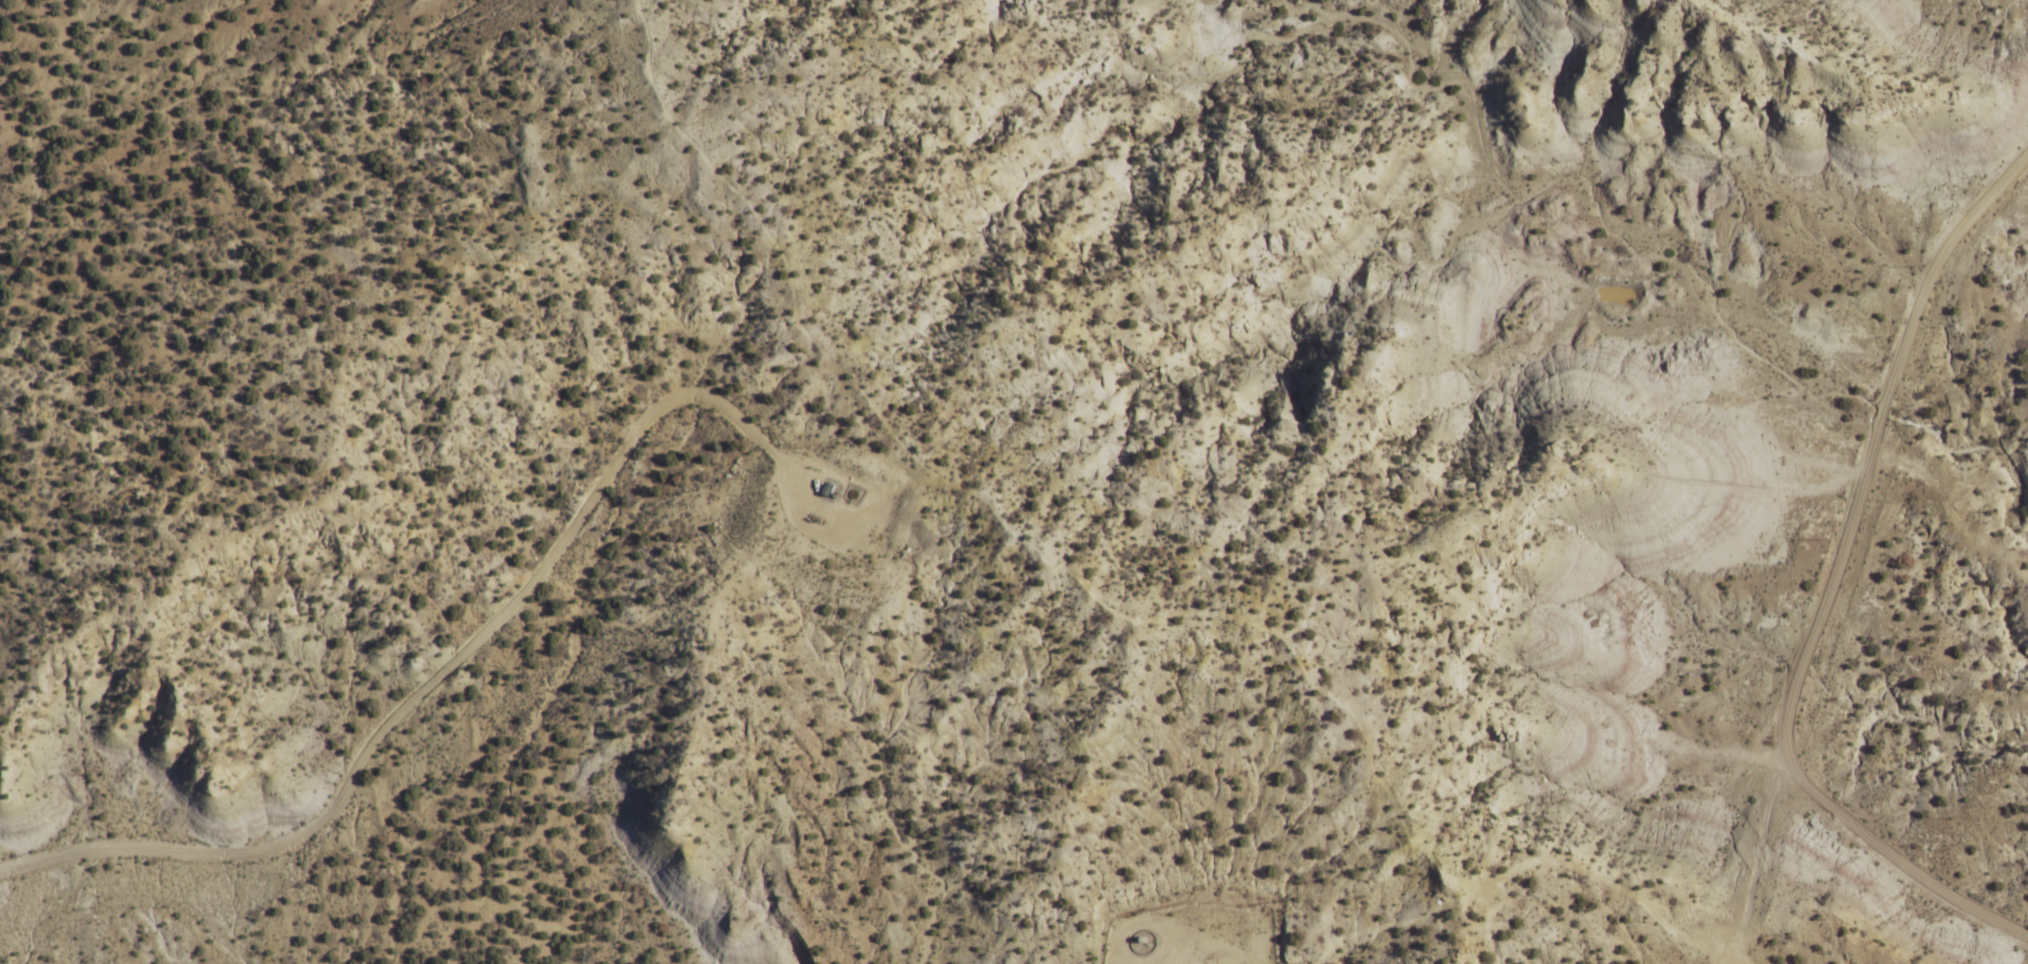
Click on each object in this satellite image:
road: (1822, 586)
road: (445, 665)

